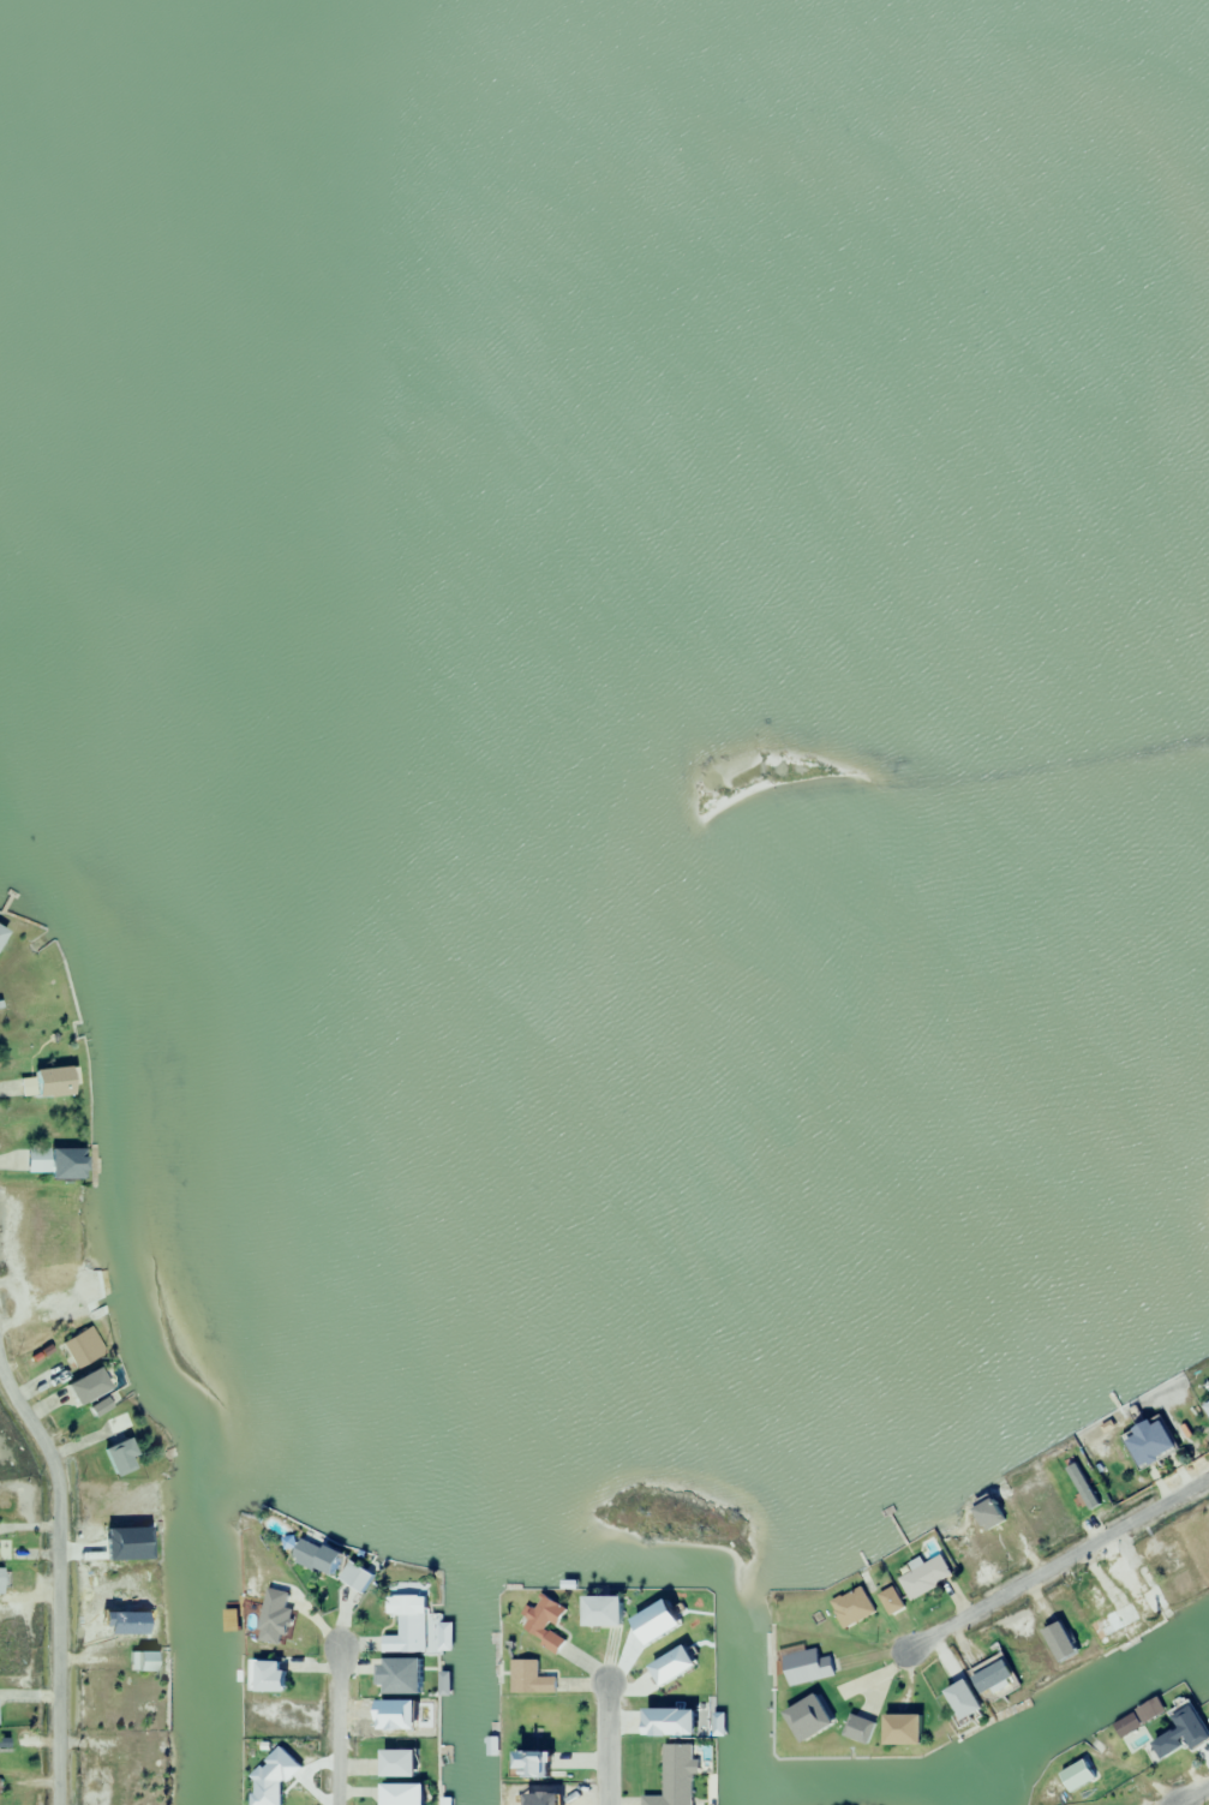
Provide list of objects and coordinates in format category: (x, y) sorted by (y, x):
building: (0, 932)
building: (42, 1083)
building: (53, 1164)
building: (70, 1298)
building: (50, 1377)
building: (83, 1386)
building: (1204, 1404)
building: (118, 1423)
building: (1145, 1442)
building: (114, 1457)
building: (986, 1513)
building: (315, 1556)
road: (1054, 1560)
building: (354, 1577)
building: (924, 1577)
road: (55, 1578)
building: (1151, 1598)
building: (890, 1600)
building: (851, 1606)
building: (598, 1610)
building: (1111, 1621)
building: (544, 1622)
building: (406, 1624)
building: (1058, 1642)
building: (139, 1661)
building: (804, 1666)
building: (267, 1675)
building: (990, 1675)
building: (527, 1678)
building: (959, 1698)
building: (804, 1717)
road: (335, 1723)
building: (1189, 1726)
building: (857, 1728)
building: (899, 1728)
road: (604, 1744)
building: (1166, 1745)
building: (152, 1758)
building: (395, 1762)
building: (527, 1763)
building: (674, 1776)
road: (1196, 1788)
building: (271, 1791)
building: (399, 1794)

